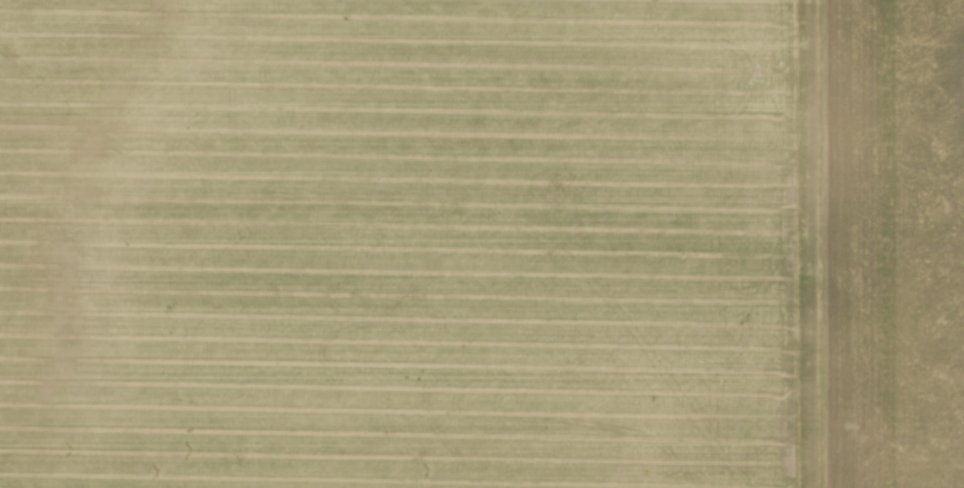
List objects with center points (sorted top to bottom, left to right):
crop: (482, 244)

